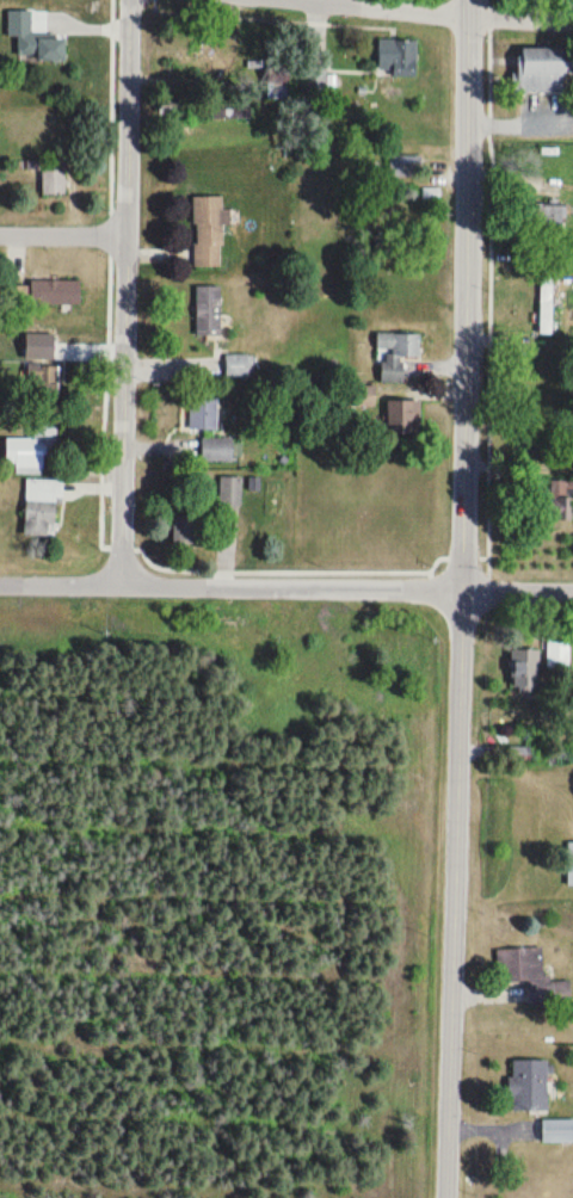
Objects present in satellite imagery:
road: (455, 12)
building: (32, 39)
building: (395, 57)
building: (544, 72)
building: (403, 166)
building: (53, 183)
building: (543, 217)
building: (207, 231)
road: (61, 235)
road: (121, 290)
building: (55, 294)
building: (544, 308)
building: (207, 311)
building: (395, 356)
building: (239, 368)
building: (42, 377)
building: (361, 397)
building: (203, 415)
building: (403, 418)
building: (217, 451)
building: (24, 452)
building: (229, 493)
building: (561, 501)
building: (41, 507)
building: (185, 536)
road: (286, 585)
road: (461, 599)
building: (557, 657)
building: (528, 672)
building: (519, 754)
building: (569, 863)
building: (530, 974)
building: (529, 1085)
building: (557, 1131)

